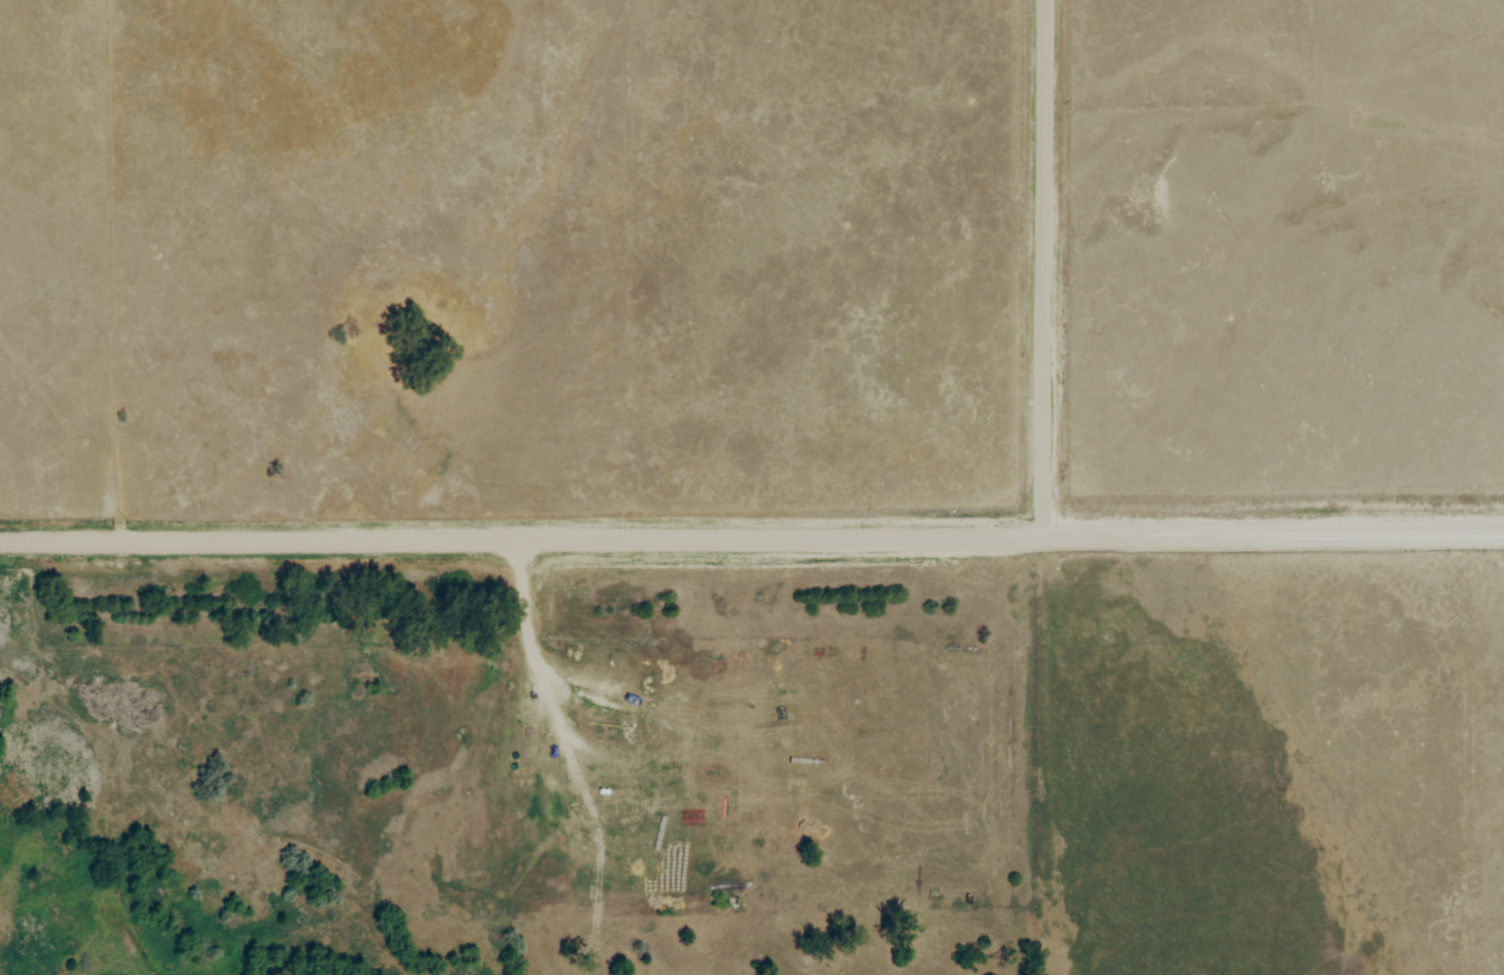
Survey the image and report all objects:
road: (1047, 268)
road: (752, 538)

